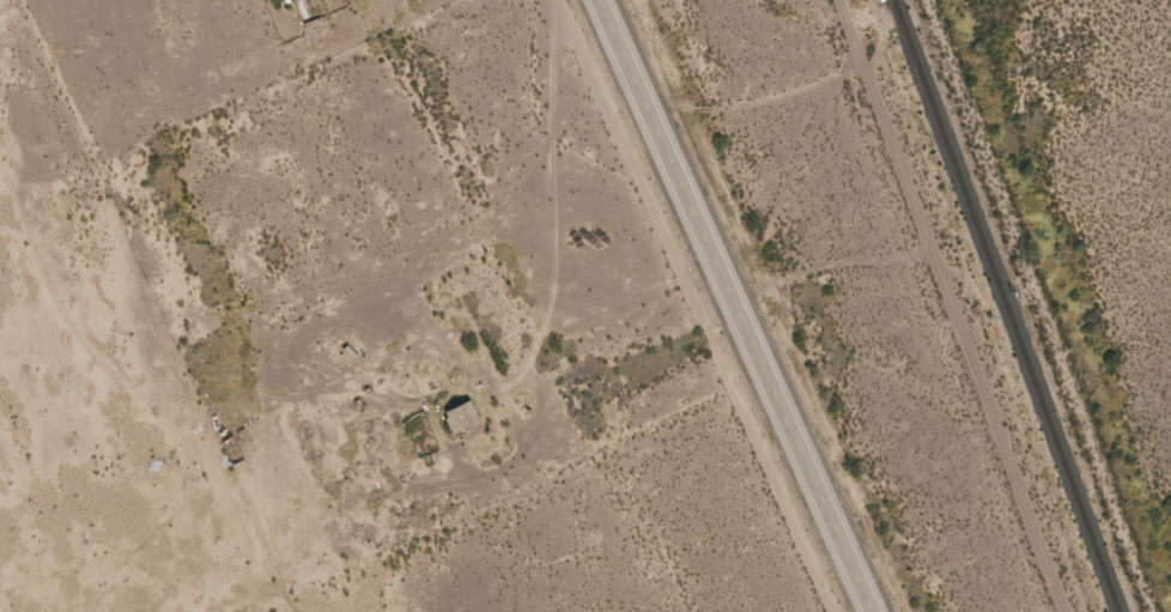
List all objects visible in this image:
road: (740, 305)
railway: (1006, 305)
road: (554, 323)
building: (438, 349)
building: (459, 418)
building: (231, 453)

